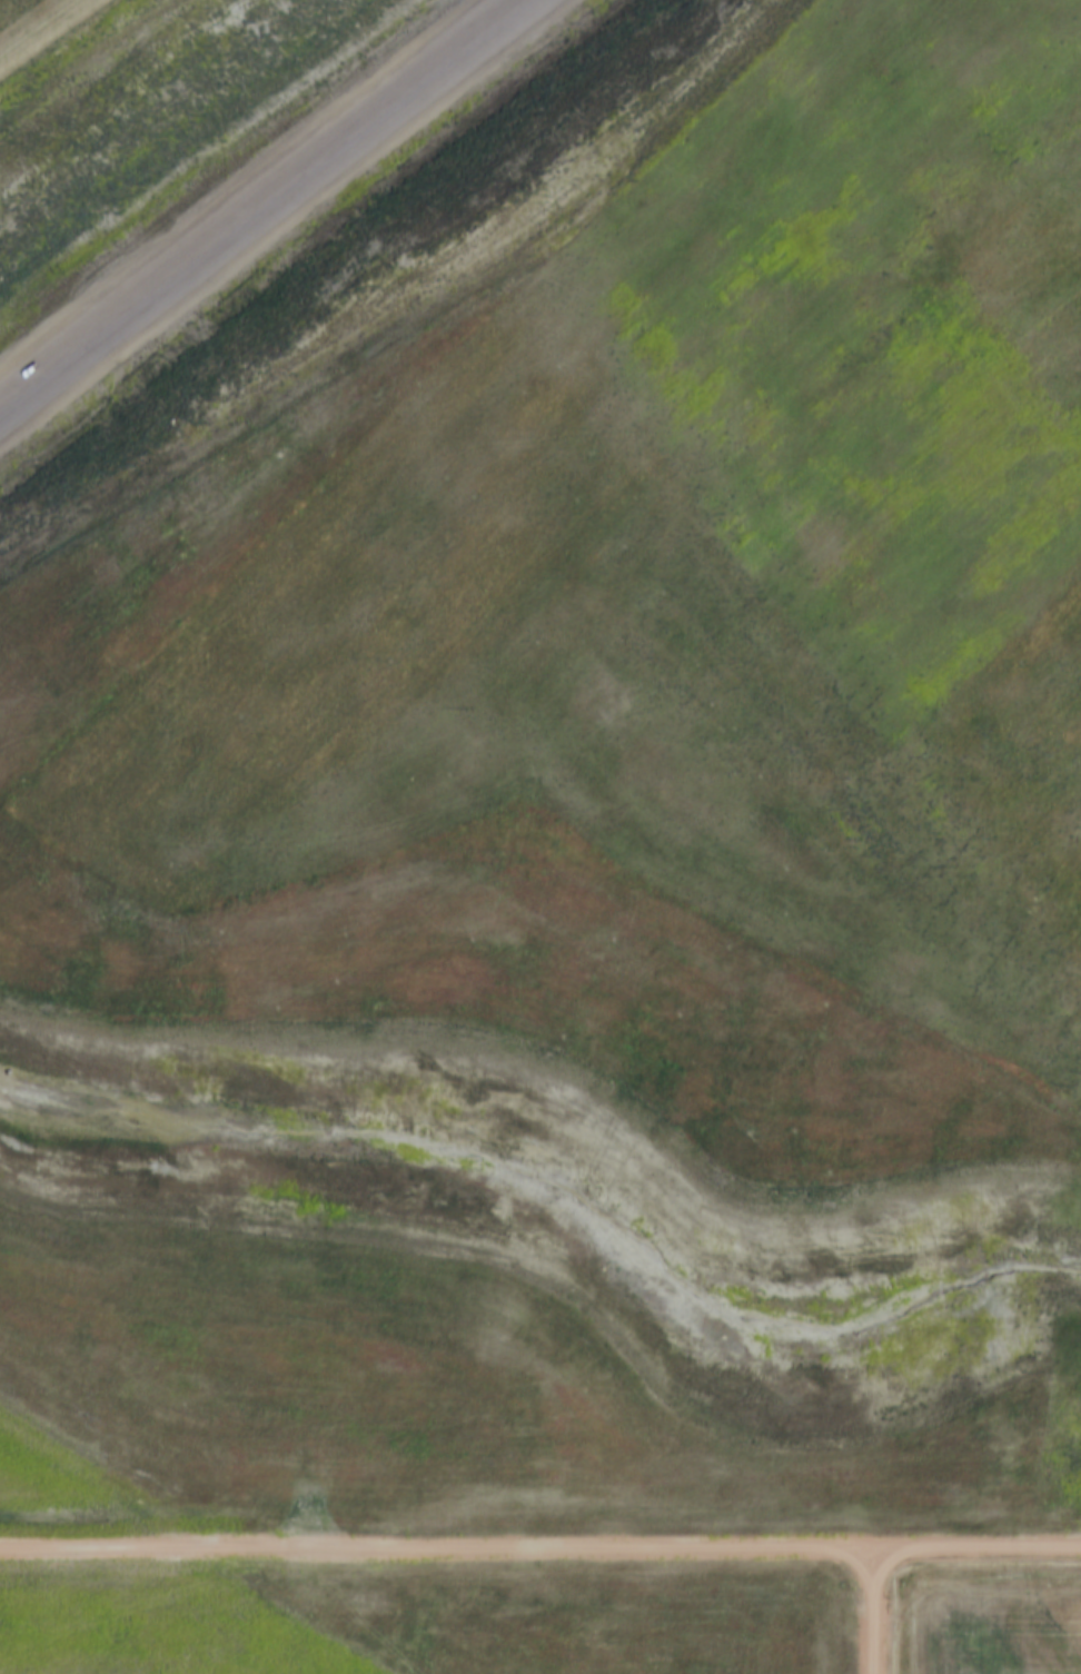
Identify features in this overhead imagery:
quarry: (670, 567)

